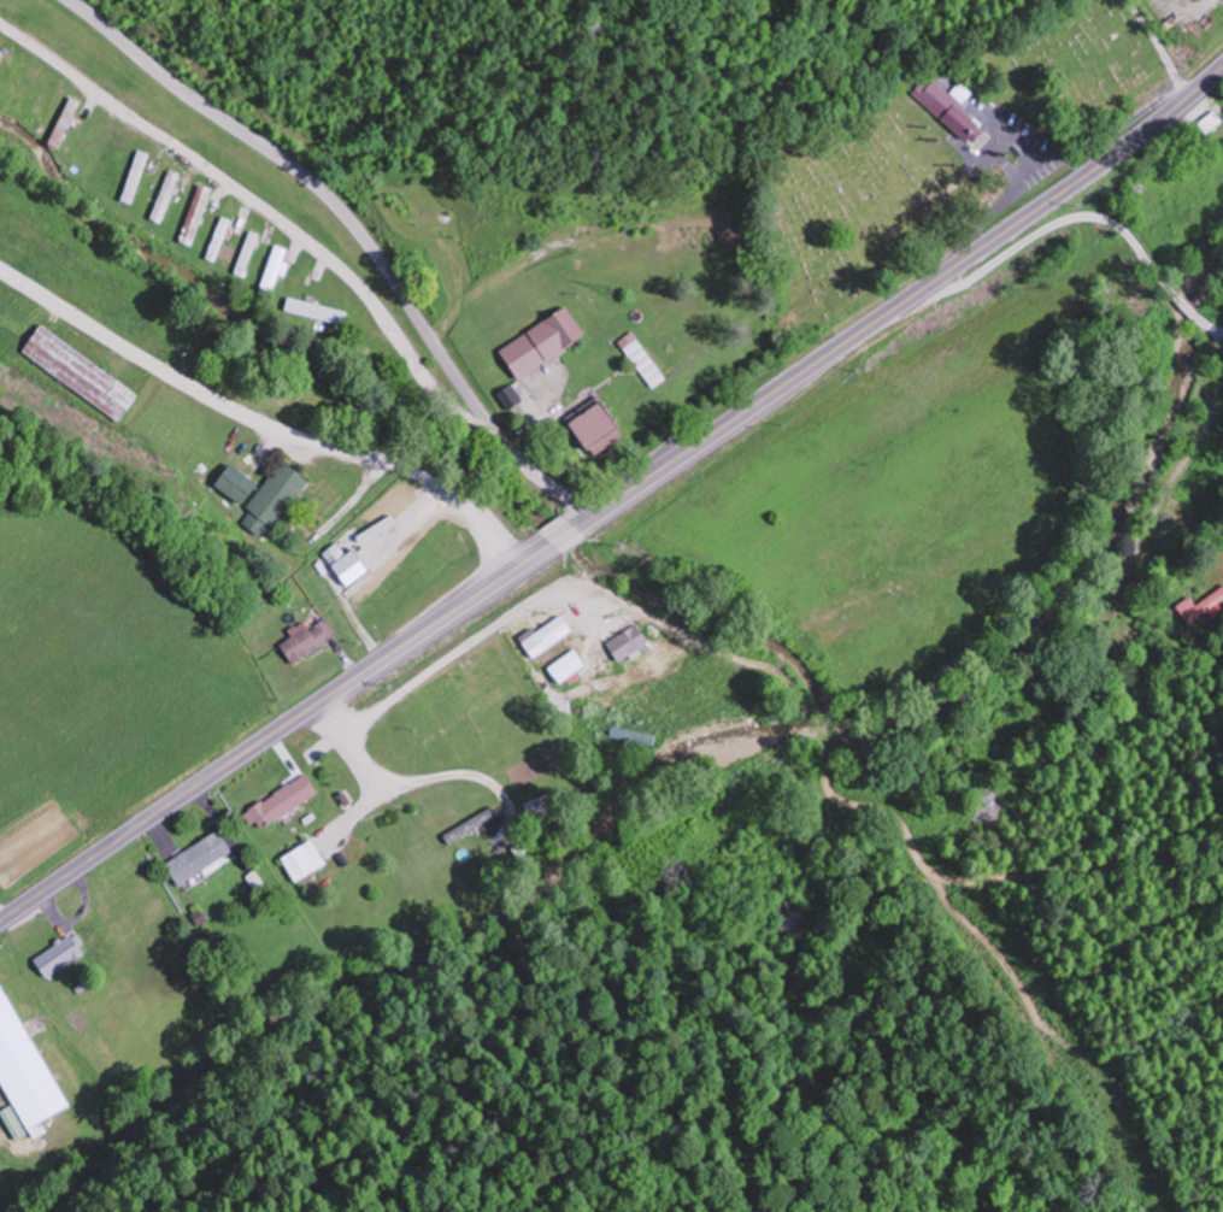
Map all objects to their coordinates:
building: (14, 84)
building: (43, 94)
building: (946, 107)
building: (65, 123)
building: (166, 198)
building: (195, 219)
road: (1049, 226)
road: (360, 233)
building: (272, 272)
building: (300, 287)
road: (1188, 306)
road: (1213, 326)
building: (546, 343)
building: (645, 360)
building: (82, 373)
building: (516, 395)
building: (601, 426)
road: (1165, 495)
building: (265, 496)
road: (616, 500)
building: (346, 552)
building: (1198, 606)
building: (531, 633)
building: (310, 640)
building: (480, 690)
building: (284, 801)
building: (987, 811)
building: (470, 825)
building: (201, 857)
building: (306, 859)
building: (789, 916)
building: (61, 955)
building: (27, 1067)

